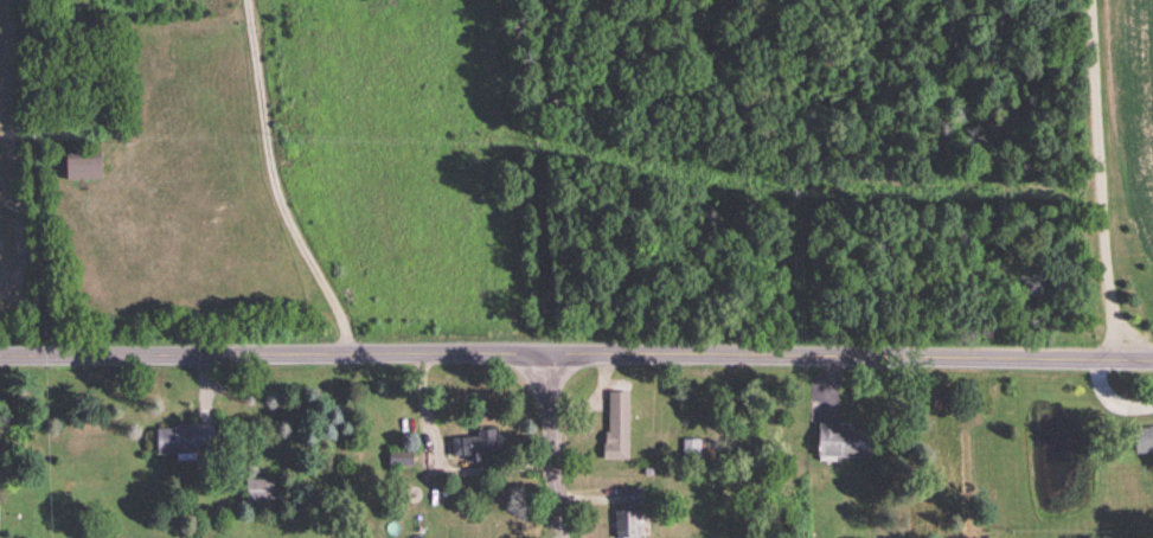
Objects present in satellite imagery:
road: (126, 7)
road: (56, 26)
crop: (1136, 109)
building: (85, 165)
crop: (5, 171)
road: (1098, 179)
road: (275, 182)
road: (576, 352)
road: (205, 386)
road: (831, 388)
road: (596, 397)
road: (1110, 397)
building: (617, 425)
building: (185, 436)
building: (1144, 437)
building: (844, 438)
building: (473, 442)
road: (556, 444)
building: (691, 446)
building: (399, 455)
road: (441, 462)
building: (648, 469)
building: (261, 487)
building: (632, 493)
road: (590, 494)
building: (629, 521)

